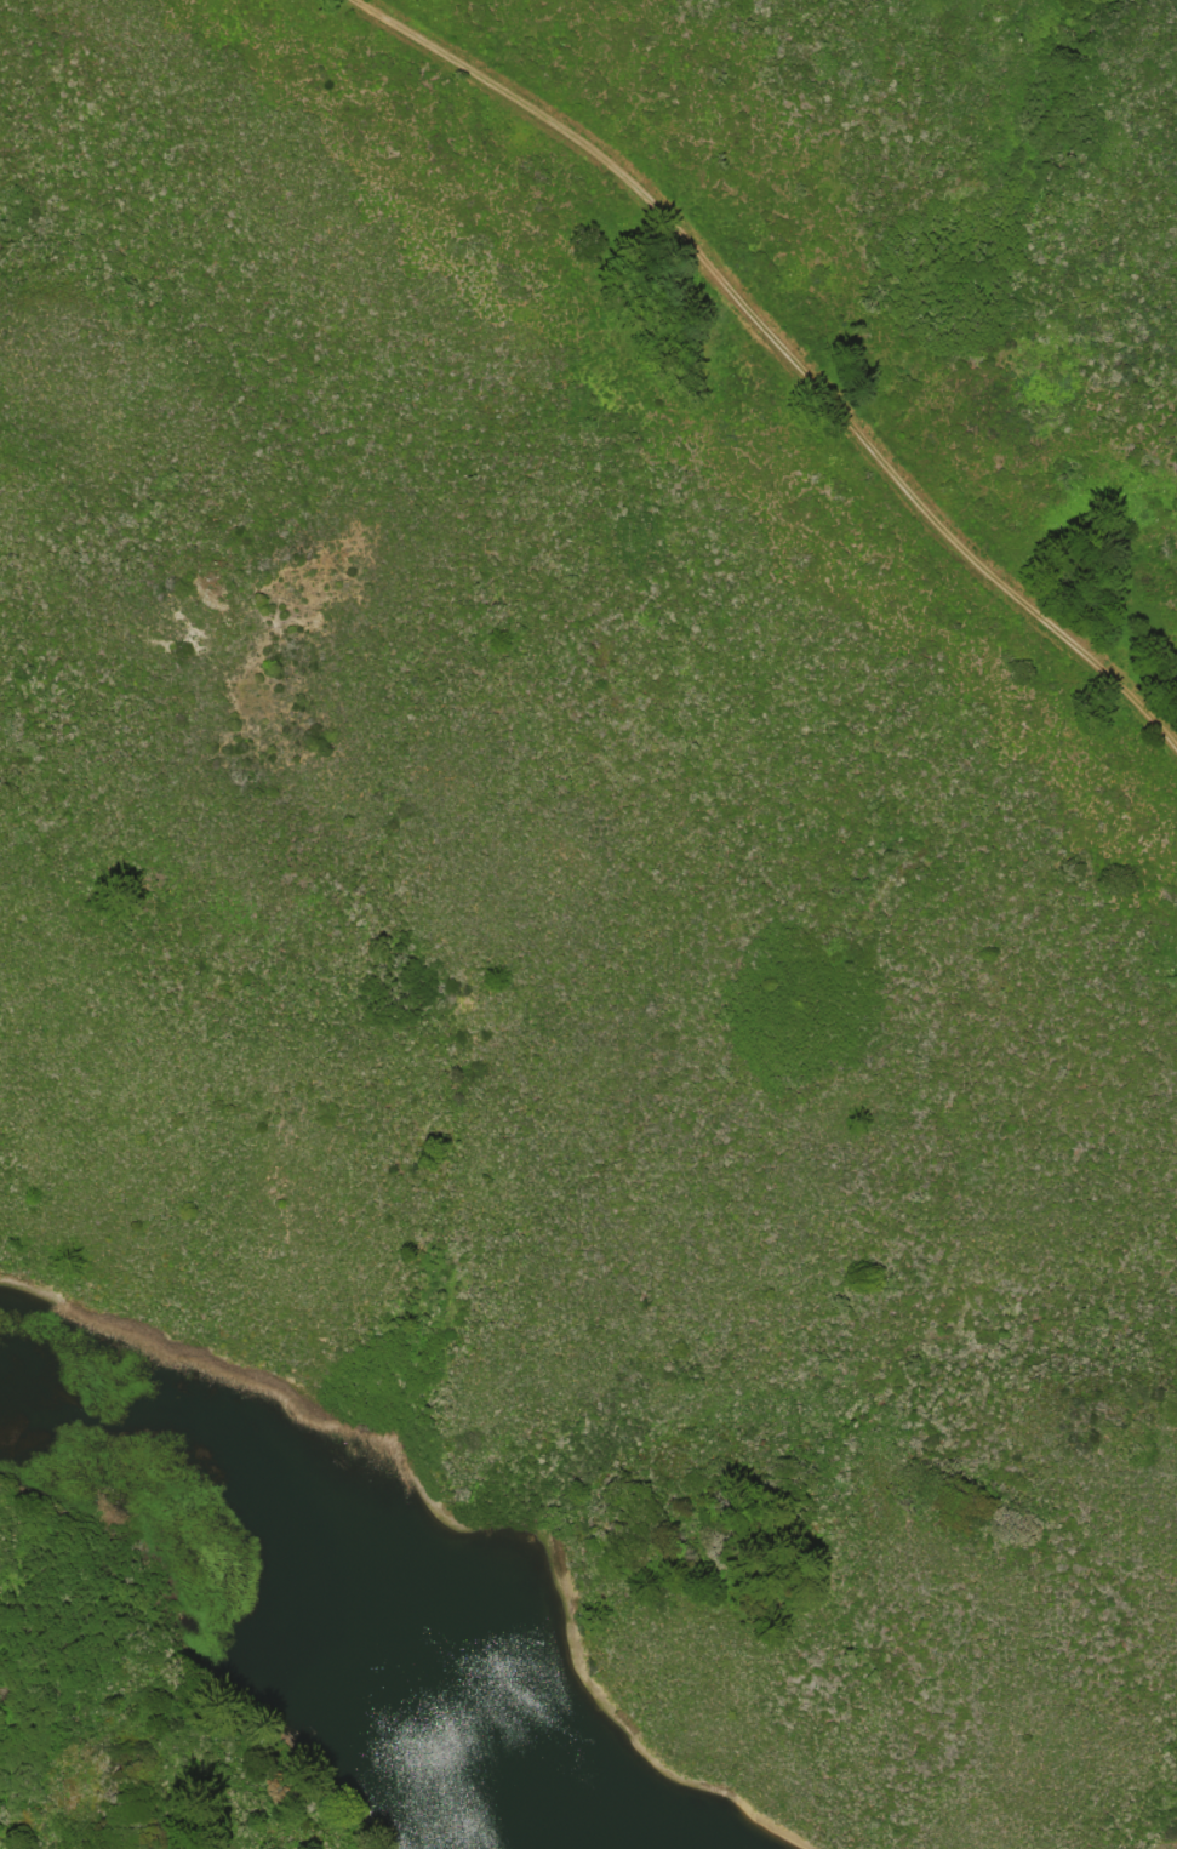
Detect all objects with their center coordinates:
road: (793, 358)

